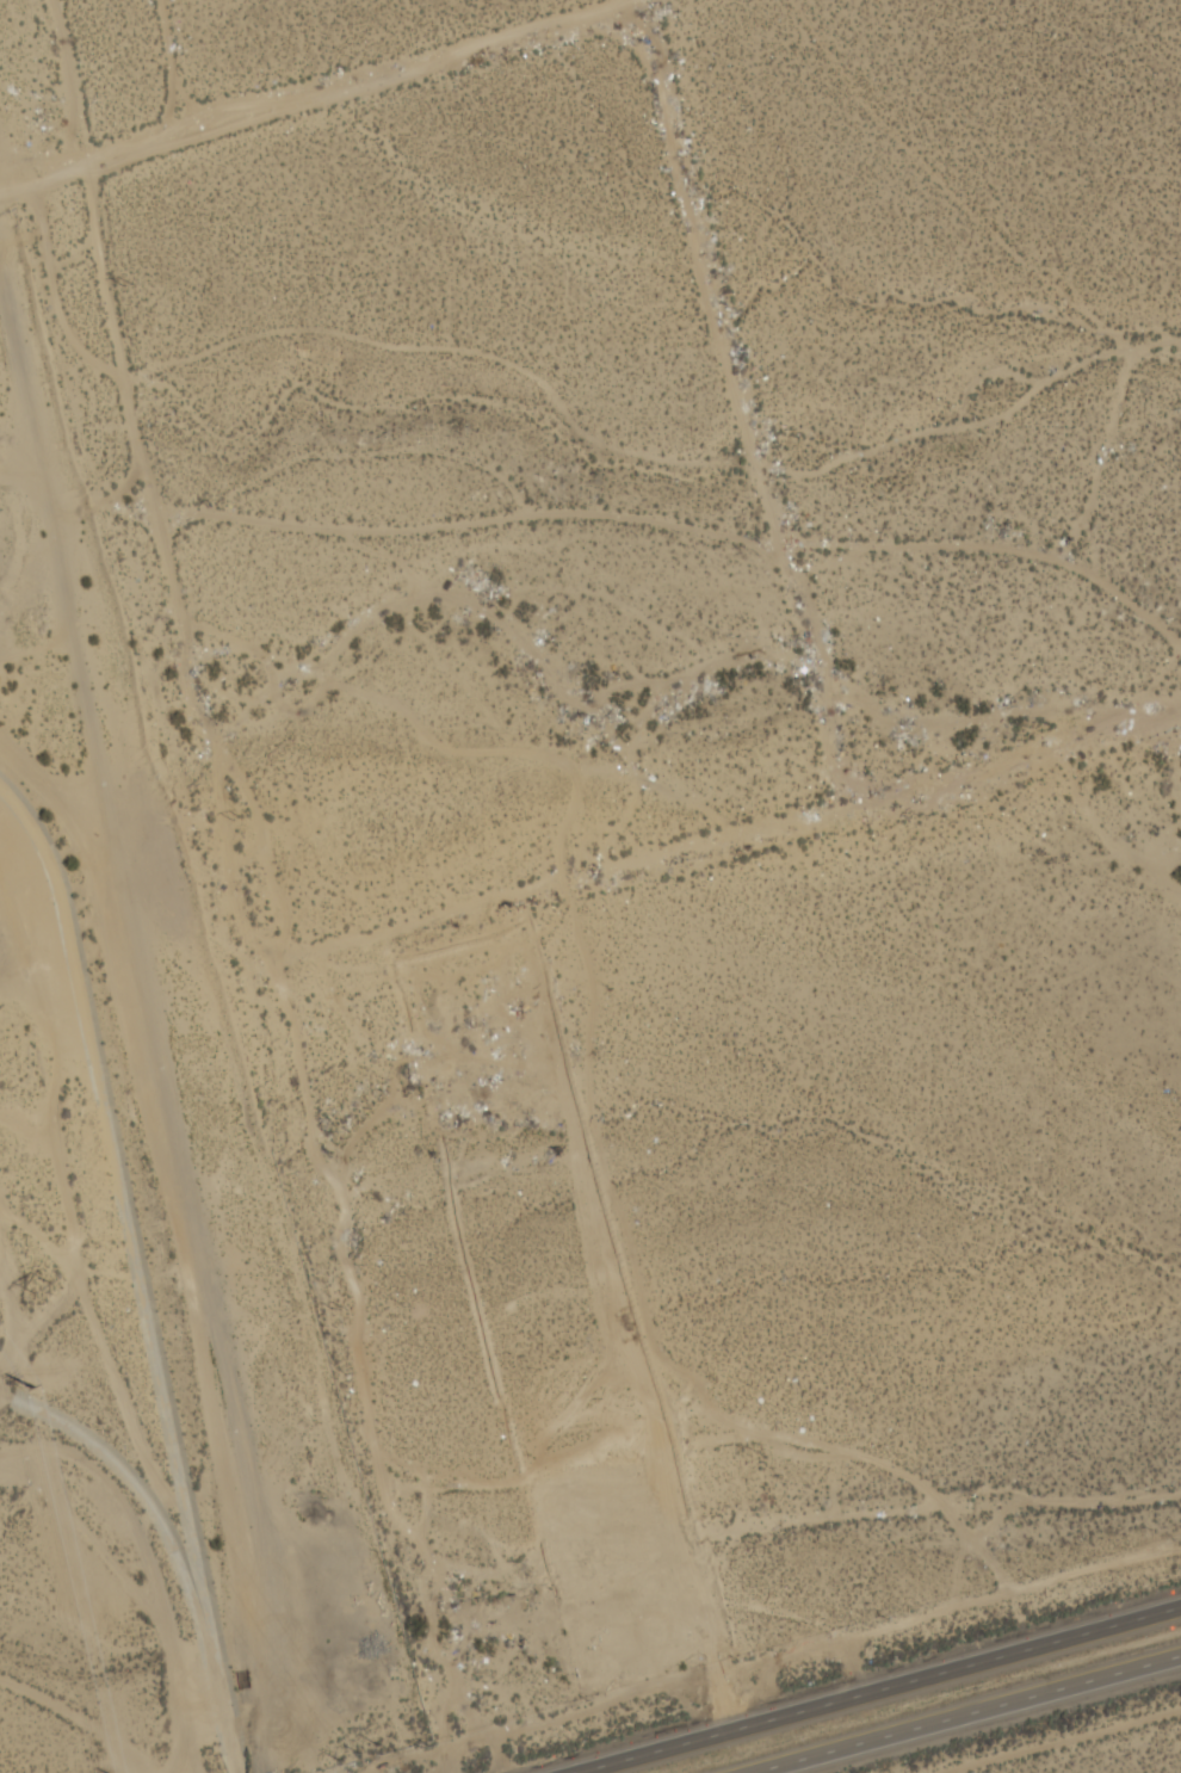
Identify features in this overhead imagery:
road: (315, 93)
road: (707, 255)
power tower: (128, 288)
road: (287, 526)
power tower: (235, 816)
power tower: (47, 1290)
power tower: (334, 1310)
power tower: (35, 1389)
road: (879, 1689)
road: (972, 1716)
power tower: (423, 1748)
power tower: (358, 1754)

